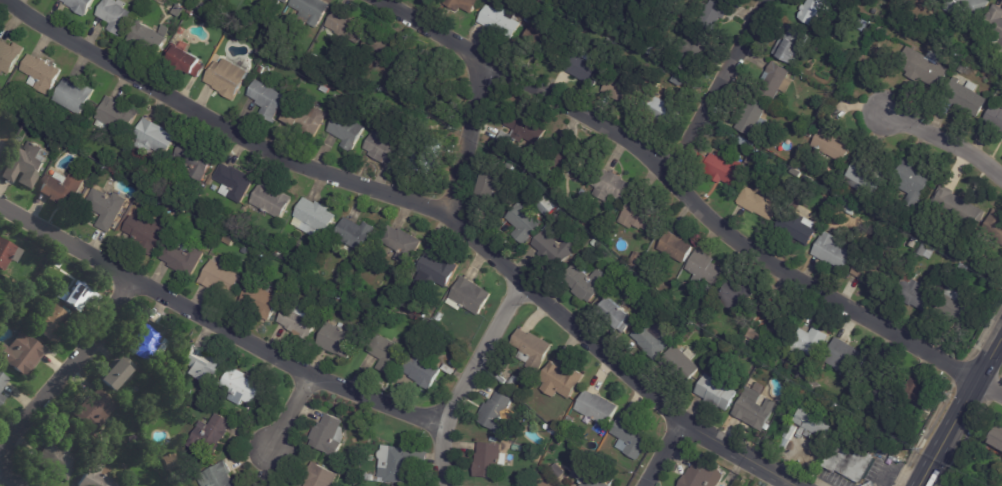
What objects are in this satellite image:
building: (278, 1)
building: (936, 1)
building: (462, 5)
building: (79, 6)
building: (200, 6)
building: (969, 7)
building: (646, 8)
building: (816, 11)
building: (190, 12)
building: (312, 13)
building: (717, 13)
building: (115, 16)
building: (527, 17)
building: (499, 22)
building: (994, 23)
building: (347, 28)
building: (147, 39)
building: (791, 45)
building: (542, 46)
building: (379, 50)
building: (693, 53)
building: (9, 55)
building: (313, 58)
building: (186, 62)
building: (582, 66)
building: (923, 67)
building: (41, 69)
building: (667, 71)
building: (228, 77)
building: (776, 82)
road: (717, 86)
building: (621, 90)
building: (73, 95)
building: (966, 97)
building: (267, 100)
building: (660, 110)
building: (116, 114)
building: (7, 115)
building: (995, 117)
building: (753, 118)
building: (306, 119)
building: (347, 129)
building: (521, 135)
building: (153, 136)
road: (467, 139)
building: (832, 140)
road: (942, 140)
building: (1, 144)
building: (746, 144)
building: (383, 147)
building: (757, 151)
building: (426, 153)
building: (561, 157)
building: (195, 158)
building: (752, 160)
building: (23, 163)
building: (724, 170)
building: (859, 173)
building: (796, 174)
building: (233, 182)
building: (914, 183)
building: (494, 185)
building: (62, 187)
building: (611, 187)
building: (197, 191)
road: (688, 199)
building: (270, 200)
building: (762, 202)
building: (105, 206)
road: (422, 207)
building: (547, 208)
building: (169, 210)
building: (849, 210)
building: (955, 214)
building: (313, 218)
building: (640, 219)
building: (524, 224)
building: (995, 227)
building: (797, 229)
building: (144, 233)
building: (355, 233)
building: (228, 240)
building: (401, 243)
building: (595, 244)
building: (554, 247)
building: (676, 248)
building: (244, 250)
building: (7, 252)
building: (834, 252)
building: (928, 252)
building: (276, 254)
building: (182, 257)
building: (636, 260)
building: (914, 263)
building: (370, 268)
building: (705, 269)
building: (951, 270)
building: (865, 272)
building: (433, 274)
building: (220, 278)
building: (586, 284)
building: (74, 295)
building: (469, 295)
building: (916, 295)
building: (259, 298)
building: (735, 298)
building: (959, 307)
building: (439, 316)
building: (778, 317)
building: (299, 318)
building: (617, 318)
building: (49, 321)
road: (213, 327)
building: (753, 336)
building: (338, 339)
building: (149, 341)
building: (653, 341)
building: (811, 343)
building: (177, 347)
building: (532, 351)
building: (21, 352)
building: (386, 353)
building: (455, 356)
building: (846, 357)
building: (454, 363)
building: (201, 365)
building: (680, 366)
building: (421, 367)
building: (789, 368)
building: (449, 369)
building: (877, 370)
building: (116, 371)
building: (803, 377)
road: (464, 380)
building: (2, 381)
building: (155, 381)
building: (502, 381)
road: (58, 382)
building: (513, 382)
building: (561, 382)
building: (815, 386)
building: (240, 388)
building: (717, 394)
building: (918, 395)
building: (1, 397)
building: (887, 400)
building: (94, 408)
building: (597, 409)
road: (958, 411)
building: (753, 412)
building: (496, 414)
road: (295, 418)
building: (813, 422)
building: (210, 434)
building: (327, 435)
building: (789, 438)
building: (630, 439)
building: (994, 443)
road: (659, 453)
building: (835, 454)
building: (126, 455)
building: (57, 459)
building: (169, 461)
building: (489, 462)
building: (855, 463)
building: (396, 464)
building: (124, 465)
building: (809, 469)
building: (556, 471)
parking lot: (871, 472)
building: (697, 474)
building: (96, 476)
building: (217, 476)
building: (320, 476)
building: (366, 476)
building: (588, 478)
building: (378, 479)
parking lot: (834, 479)
road: (781, 483)
building: (871, 484)

